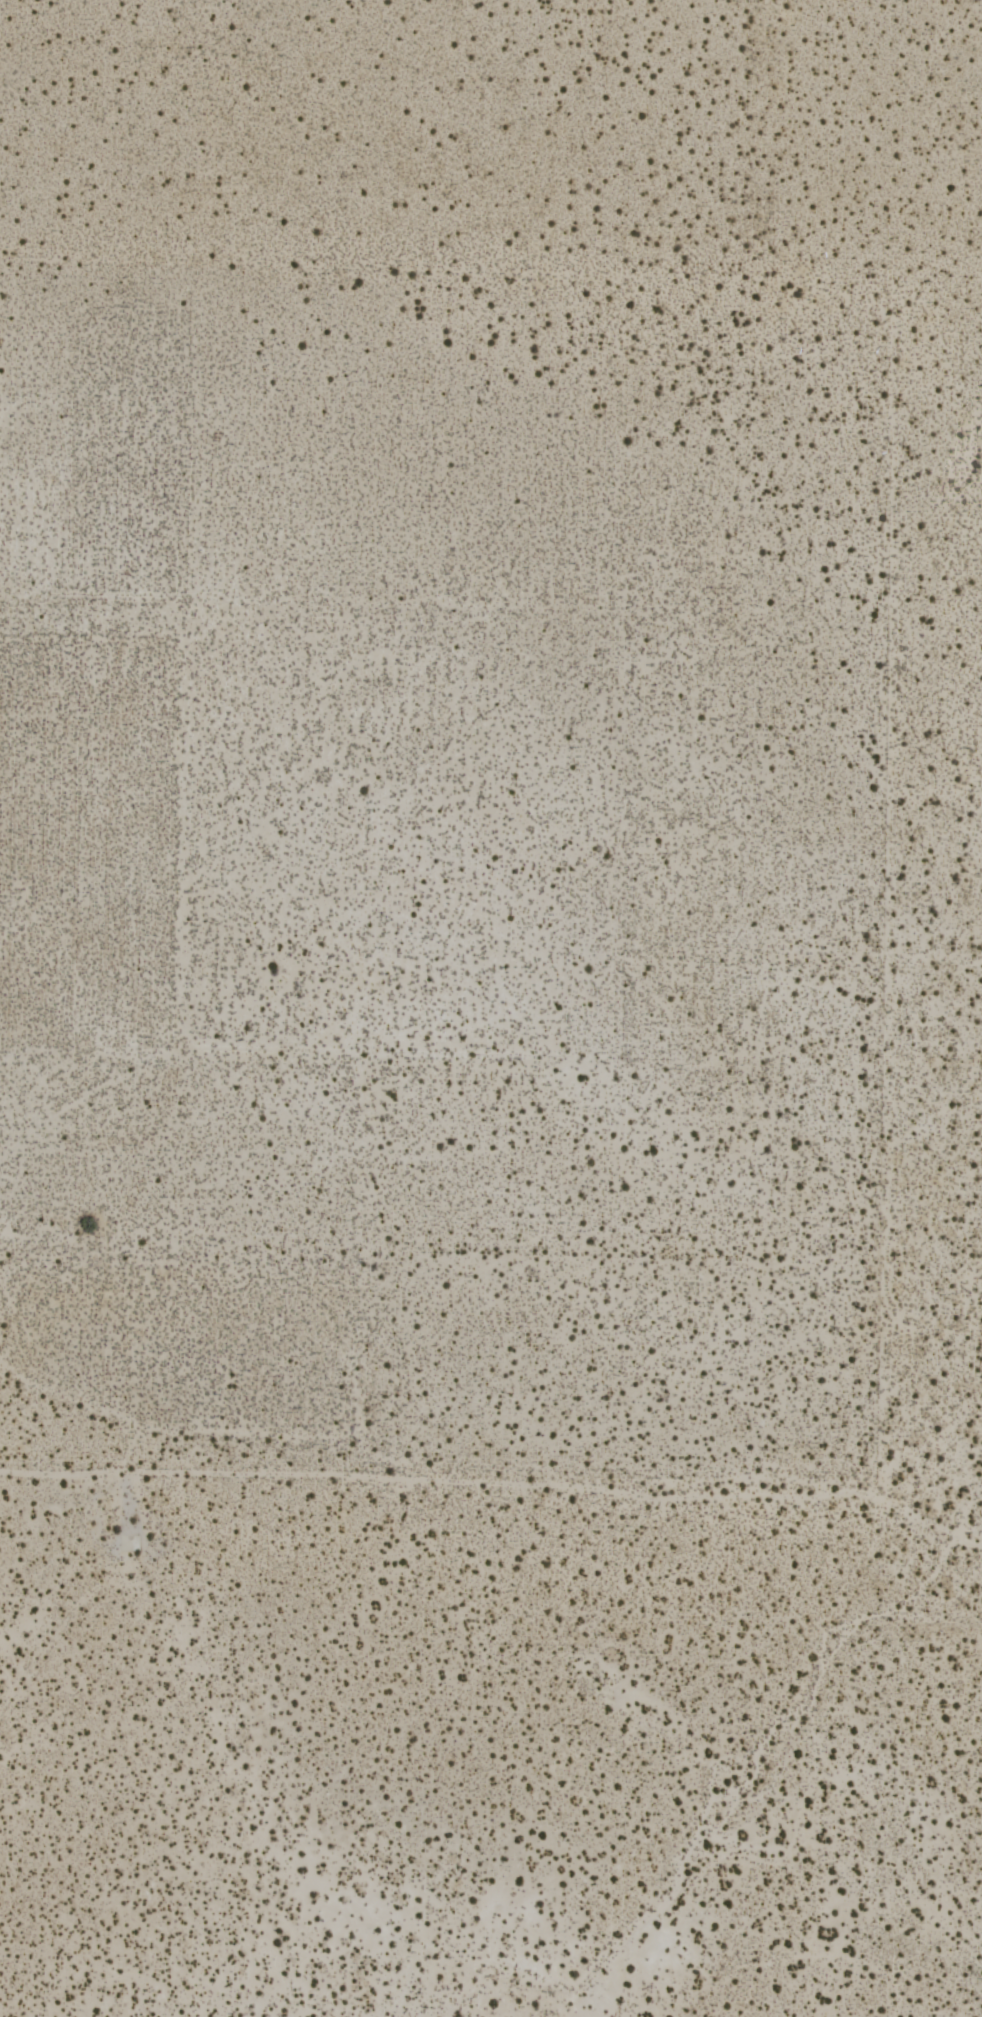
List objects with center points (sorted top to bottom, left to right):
airport: (491, 1008)

